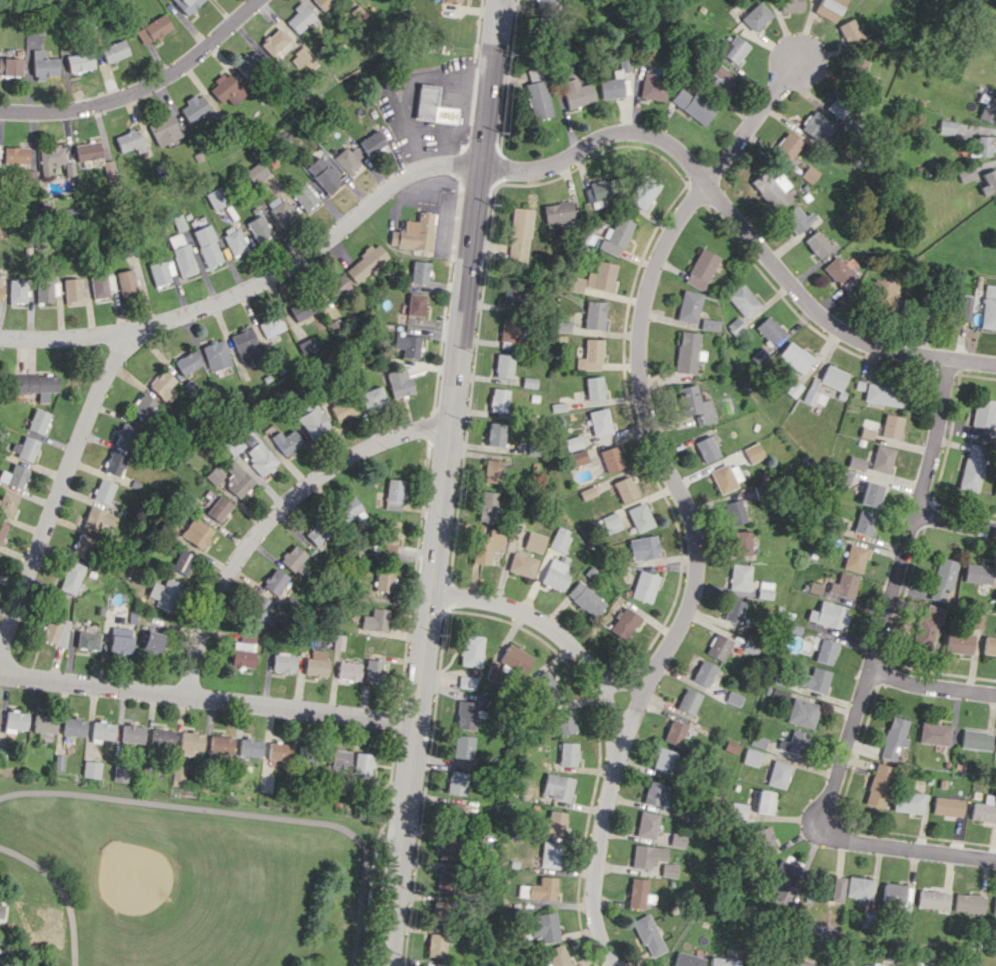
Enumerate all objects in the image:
building: (450, 0)
building: (322, 3)
building: (544, 3)
building: (187, 5)
building: (788, 5)
building: (827, 8)
building: (358, 13)
building: (754, 16)
building: (300, 18)
building: (153, 29)
building: (848, 31)
building: (274, 41)
building: (732, 48)
building: (114, 50)
building: (645, 56)
building: (304, 59)
building: (79, 62)
building: (248, 63)
building: (44, 64)
building: (10, 66)
building: (864, 68)
building: (721, 81)
road: (409, 83)
building: (612, 84)
building: (652, 86)
road: (142, 88)
building: (227, 89)
building: (576, 93)
building: (537, 94)
building: (691, 105)
building: (431, 106)
building: (836, 107)
building: (194, 108)
building: (987, 108)
building: (816, 126)
building: (946, 127)
building: (164, 130)
building: (130, 141)
building: (371, 142)
building: (787, 146)
building: (981, 147)
building: (88, 151)
building: (15, 155)
building: (50, 158)
building: (346, 159)
building: (68, 168)
road: (522, 169)
building: (256, 172)
building: (965, 173)
building: (321, 174)
building: (808, 174)
building: (28, 176)
building: (988, 181)
building: (600, 189)
building: (643, 191)
building: (775, 192)
building: (216, 197)
building: (304, 197)
building: (280, 211)
building: (557, 212)
building: (795, 219)
building: (520, 221)
building: (258, 228)
building: (414, 233)
building: (616, 236)
building: (235, 241)
building: (816, 244)
building: (207, 245)
building: (517, 248)
building: (181, 254)
building: (365, 263)
building: (701, 268)
building: (161, 271)
building: (419, 272)
building: (838, 272)
building: (595, 278)
building: (126, 281)
building: (0, 282)
building: (101, 286)
building: (336, 286)
building: (71, 289)
building: (16, 291)
building: (45, 291)
building: (512, 293)
building: (881, 294)
building: (743, 300)
building: (415, 304)
building: (689, 306)
building: (913, 307)
building: (988, 307)
building: (961, 308)
building: (302, 310)
building: (594, 315)
building: (710, 324)
building: (271, 326)
building: (563, 326)
building: (735, 326)
building: (769, 329)
building: (508, 330)
building: (246, 344)
building: (688, 352)
building: (216, 355)
building: (591, 355)
building: (794, 357)
building: (186, 362)
building: (503, 365)
road: (640, 381)
building: (398, 382)
building: (529, 382)
building: (35, 385)
building: (162, 386)
building: (835, 386)
building: (595, 388)
building: (883, 395)
building: (371, 397)
building: (498, 400)
building: (694, 404)
building: (143, 407)
building: (341, 407)
building: (983, 413)
building: (311, 420)
building: (38, 421)
building: (600, 421)
building: (890, 426)
building: (865, 432)
building: (495, 433)
building: (126, 435)
building: (285, 441)
building: (574, 442)
building: (233, 445)
building: (25, 448)
building: (706, 448)
building: (752, 452)
building: (257, 454)
building: (578, 457)
building: (612, 458)
building: (880, 458)
building: (115, 462)
building: (854, 462)
building: (971, 467)
building: (492, 470)
building: (214, 475)
building: (14, 476)
building: (725, 476)
building: (841, 476)
building: (236, 479)
road: (443, 482)
road: (61, 487)
building: (626, 489)
building: (105, 490)
building: (393, 494)
building: (869, 494)
building: (8, 503)
building: (487, 506)
building: (217, 508)
building: (347, 508)
building: (732, 512)
road: (272, 513)
building: (640, 517)
building: (100, 519)
building: (862, 522)
road: (955, 522)
building: (2, 530)
building: (196, 532)
building: (388, 532)
building: (316, 533)
building: (559, 539)
building: (534, 541)
building: (737, 542)
building: (84, 545)
building: (487, 545)
building: (643, 548)
building: (853, 557)
building: (293, 559)
building: (182, 561)
building: (522, 564)
building: (555, 573)
building: (976, 573)
building: (72, 577)
building: (738, 577)
building: (941, 578)
building: (383, 580)
building: (274, 581)
building: (841, 585)
building: (643, 586)
building: (813, 588)
building: (164, 593)
road: (892, 593)
building: (584, 599)
building: (257, 610)
building: (731, 610)
building: (826, 615)
building: (375, 620)
building: (975, 621)
building: (622, 623)
building: (927, 625)
building: (55, 631)
building: (88, 640)
building: (120, 640)
building: (152, 642)
building: (958, 642)
building: (989, 645)
building: (716, 646)
building: (747, 647)
building: (244, 650)
building: (470, 650)
building: (824, 651)
building: (516, 660)
building: (282, 663)
building: (315, 663)
building: (347, 670)
building: (372, 670)
building: (701, 672)
building: (812, 679)
building: (465, 681)
road: (625, 681)
building: (540, 682)
road: (933, 683)
road: (210, 698)
building: (731, 698)
building: (685, 701)
building: (801, 713)
building: (463, 714)
building: (15, 721)
building: (562, 722)
building: (44, 723)
road: (616, 725)
building: (75, 726)
building: (103, 732)
building: (673, 732)
building: (132, 733)
building: (935, 733)
building: (161, 737)
building: (894, 737)
building: (977, 739)
building: (190, 742)
building: (793, 742)
building: (219, 745)
building: (461, 746)
building: (249, 747)
building: (729, 747)
building: (279, 751)
building: (566, 753)
building: (749, 757)
building: (337, 758)
building: (661, 760)
building: (361, 764)
building: (92, 769)
building: (120, 773)
building: (178, 773)
building: (777, 774)
building: (455, 782)
building: (878, 785)
building: (555, 786)
building: (653, 793)
building: (764, 802)
building: (909, 802)
building: (949, 806)
building: (985, 809)
building: (454, 810)
building: (737, 810)
road: (245, 814)
building: (550, 823)
building: (644, 824)
building: (764, 839)
building: (675, 840)
road: (908, 845)
building: (447, 847)
road: (384, 854)
building: (548, 854)
building: (650, 859)
building: (445, 880)
building: (782, 880)
park: (180, 881)
building: (861, 887)
building: (541, 888)
building: (832, 888)
road: (61, 890)
building: (521, 890)
building: (636, 893)
building: (896, 893)
building: (935, 899)
building: (971, 903)
building: (995, 909)
building: (1, 911)
building: (438, 912)
building: (868, 917)
building: (540, 927)
building: (647, 935)
building: (435, 945)
building: (555, 956)
building: (724, 961)
building: (797, 963)
building: (427, 965)
building: (874, 965)

